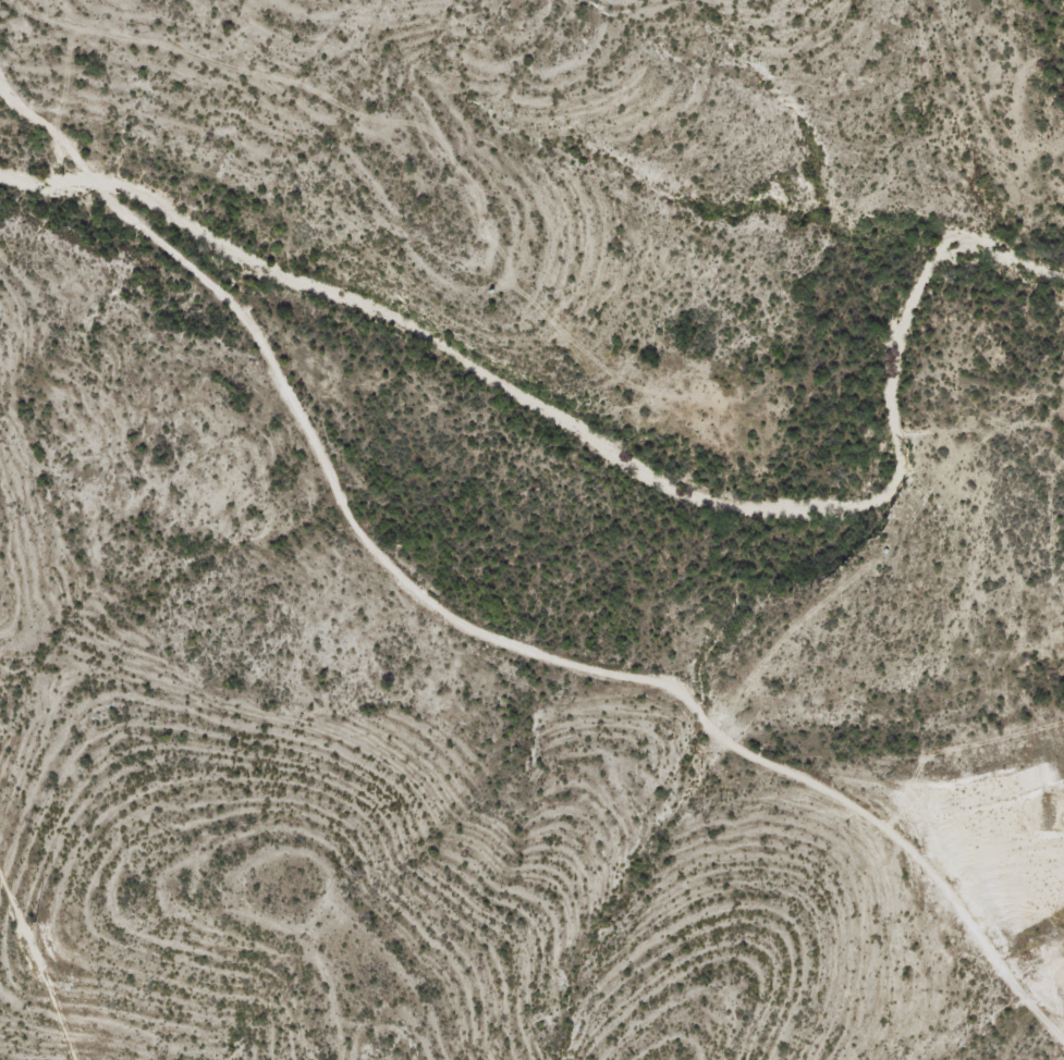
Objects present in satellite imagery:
road: (473, 620)
power tower: (36, 916)

